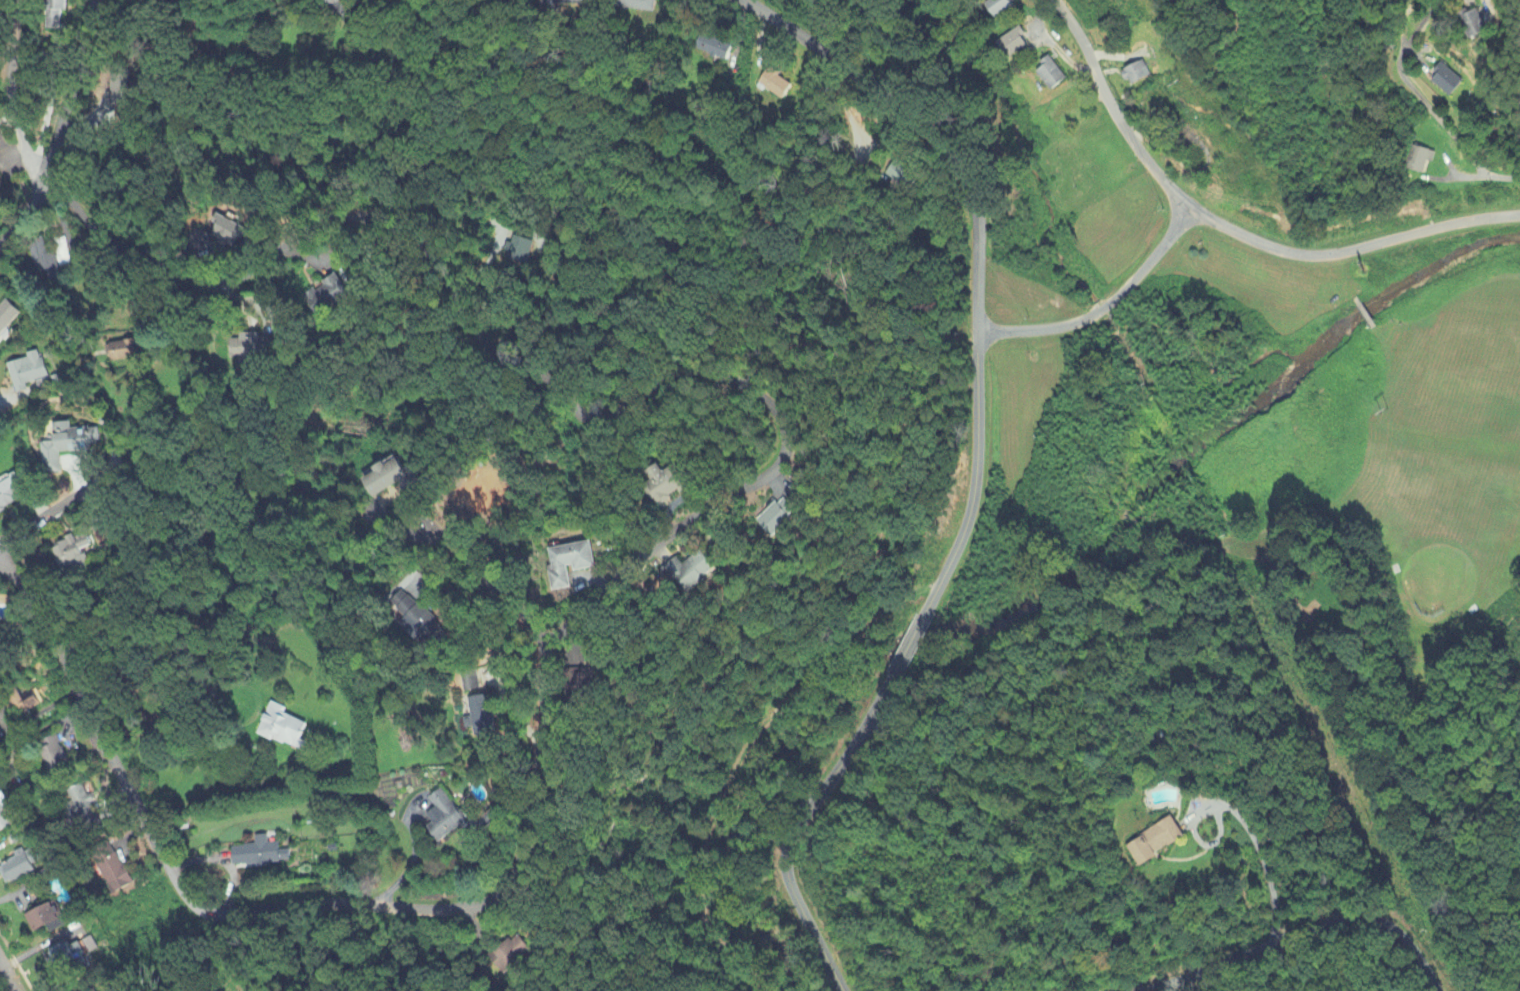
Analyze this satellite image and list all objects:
power tower: (1177, 81)
road: (75, 87)
road: (10, 92)
road: (1113, 115)
road: (1448, 130)
road: (29, 212)
road: (1351, 249)
road: (1101, 308)
power tower: (1382, 412)
road: (787, 434)
road: (975, 470)
road: (63, 501)
road: (488, 585)
road: (95, 722)
road: (714, 739)
road: (1258, 851)
road: (411, 861)
road: (1296, 938)
road: (8, 976)

